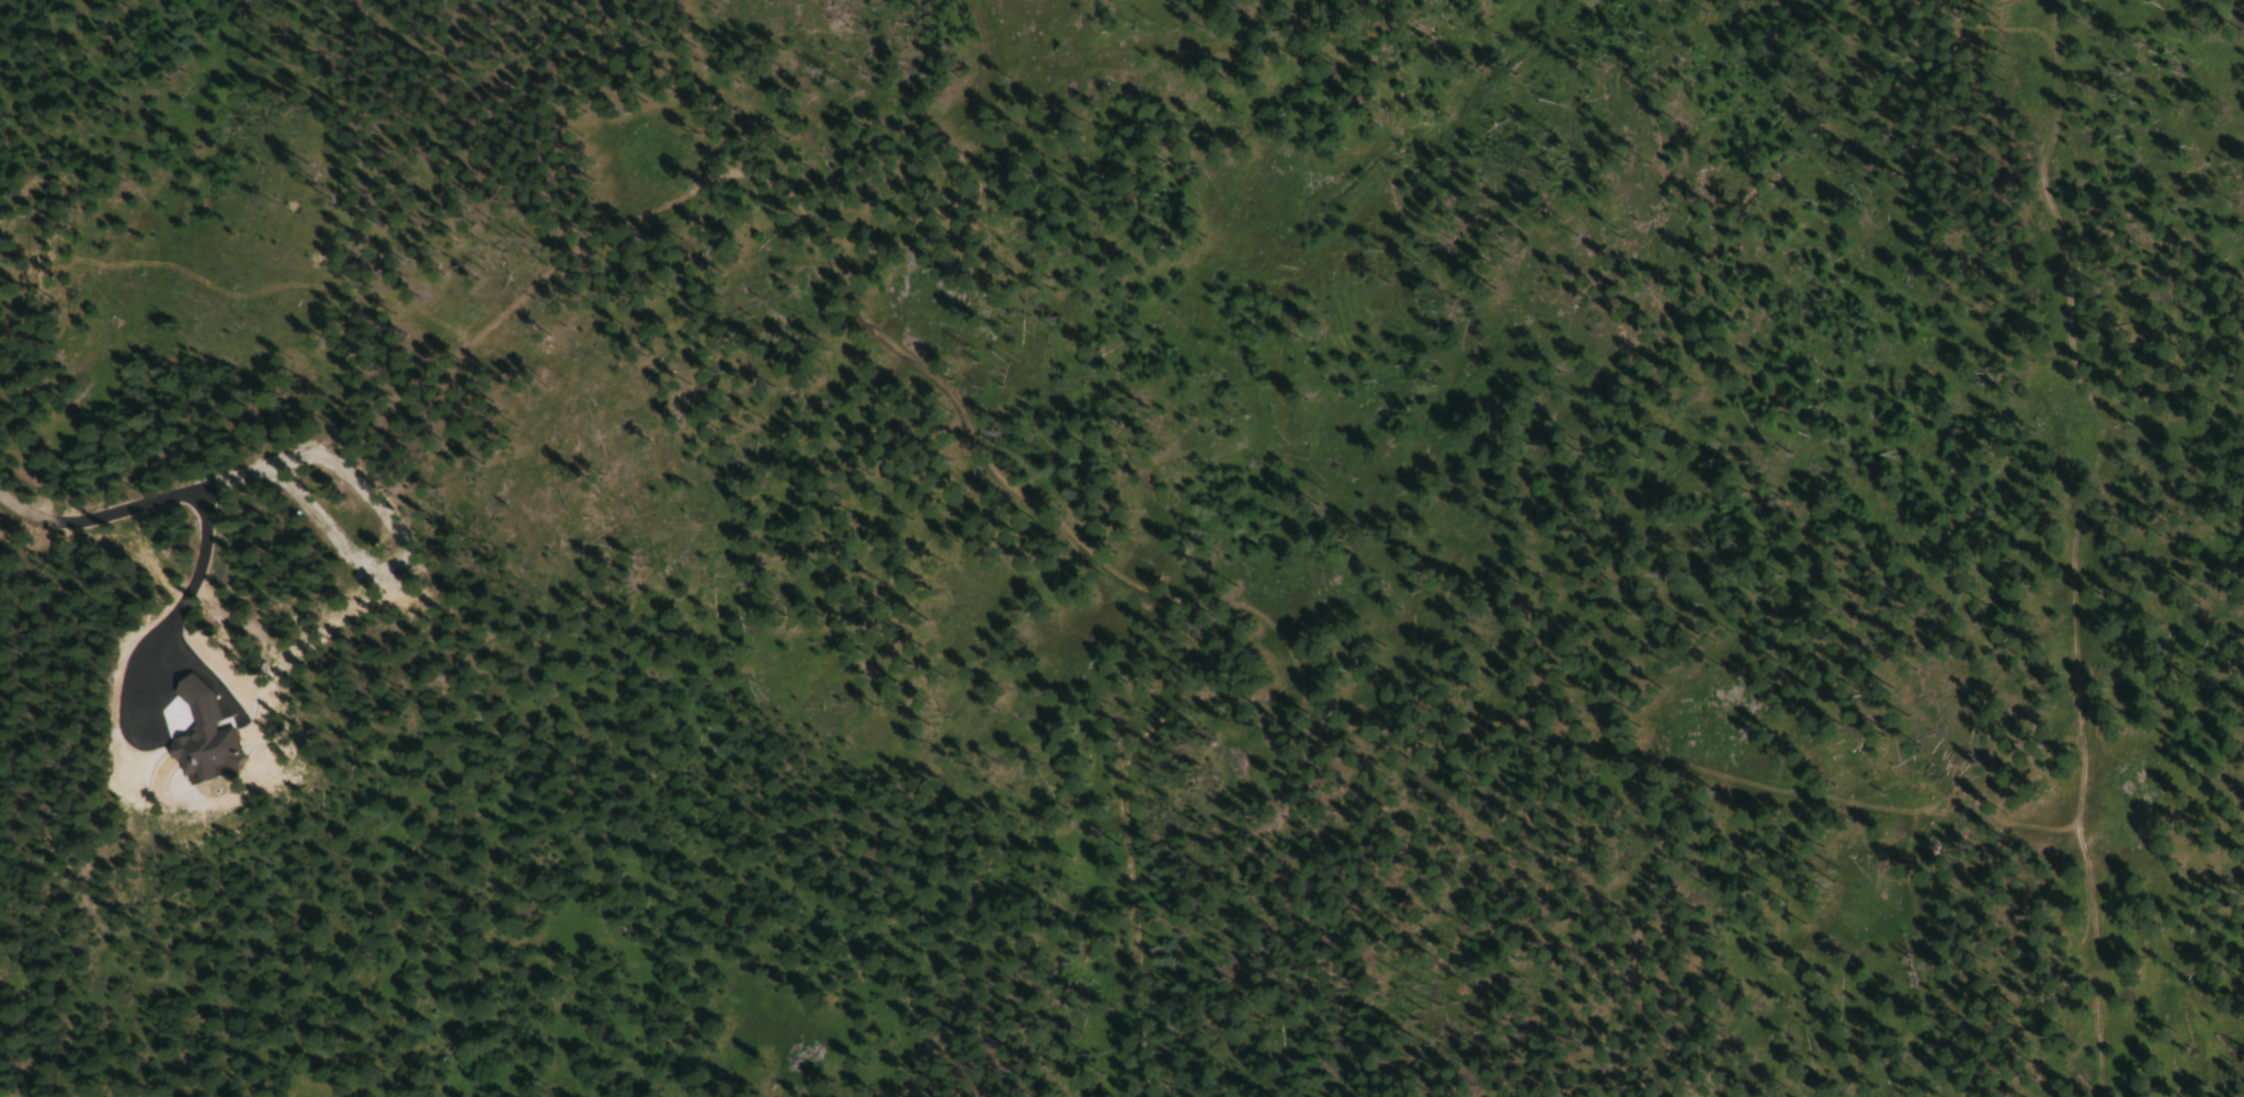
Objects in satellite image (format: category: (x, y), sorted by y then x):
road: (136, 507)
road: (402, 564)
road: (186, 597)

